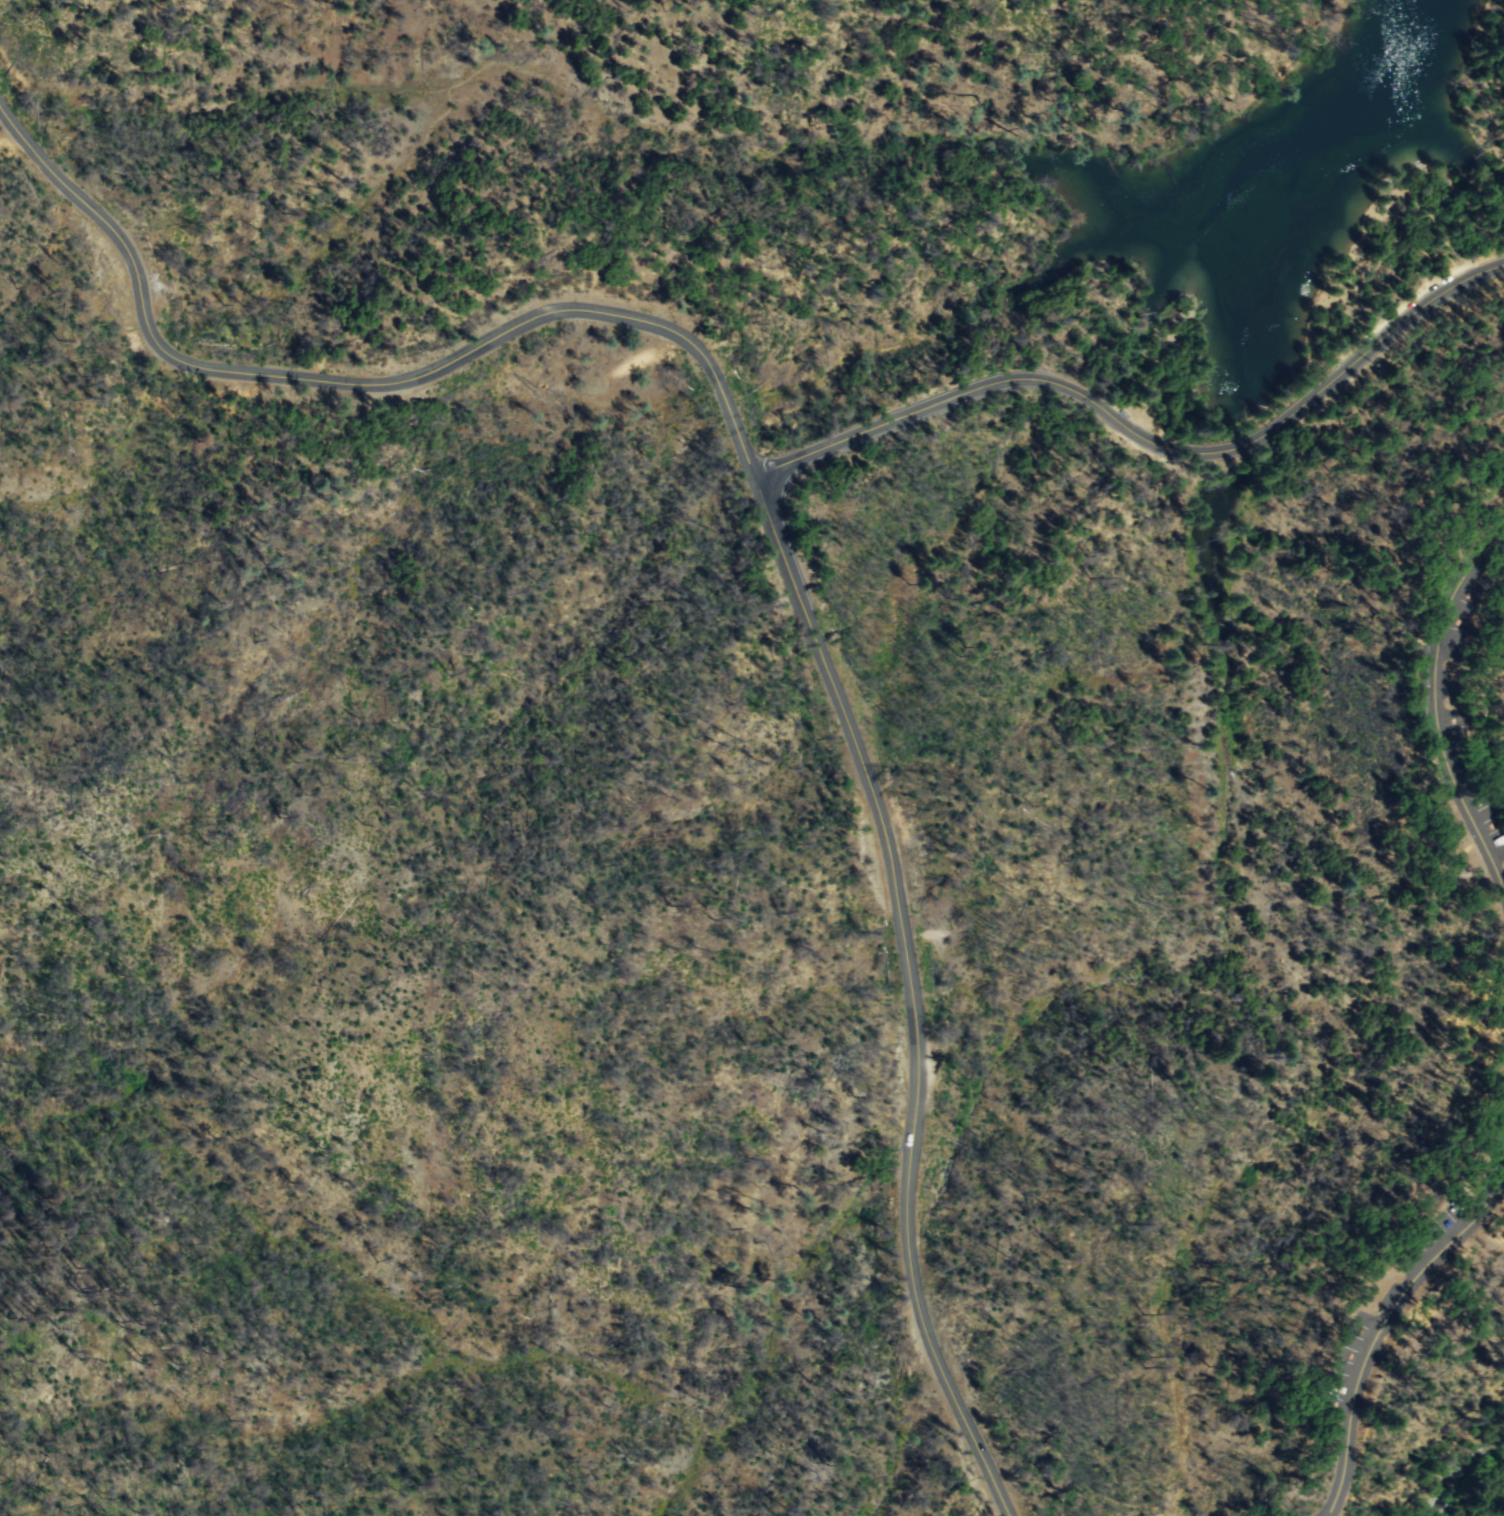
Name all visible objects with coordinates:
road: (1141, 441)
road: (765, 515)
road: (1429, 713)
road: (1391, 1310)

